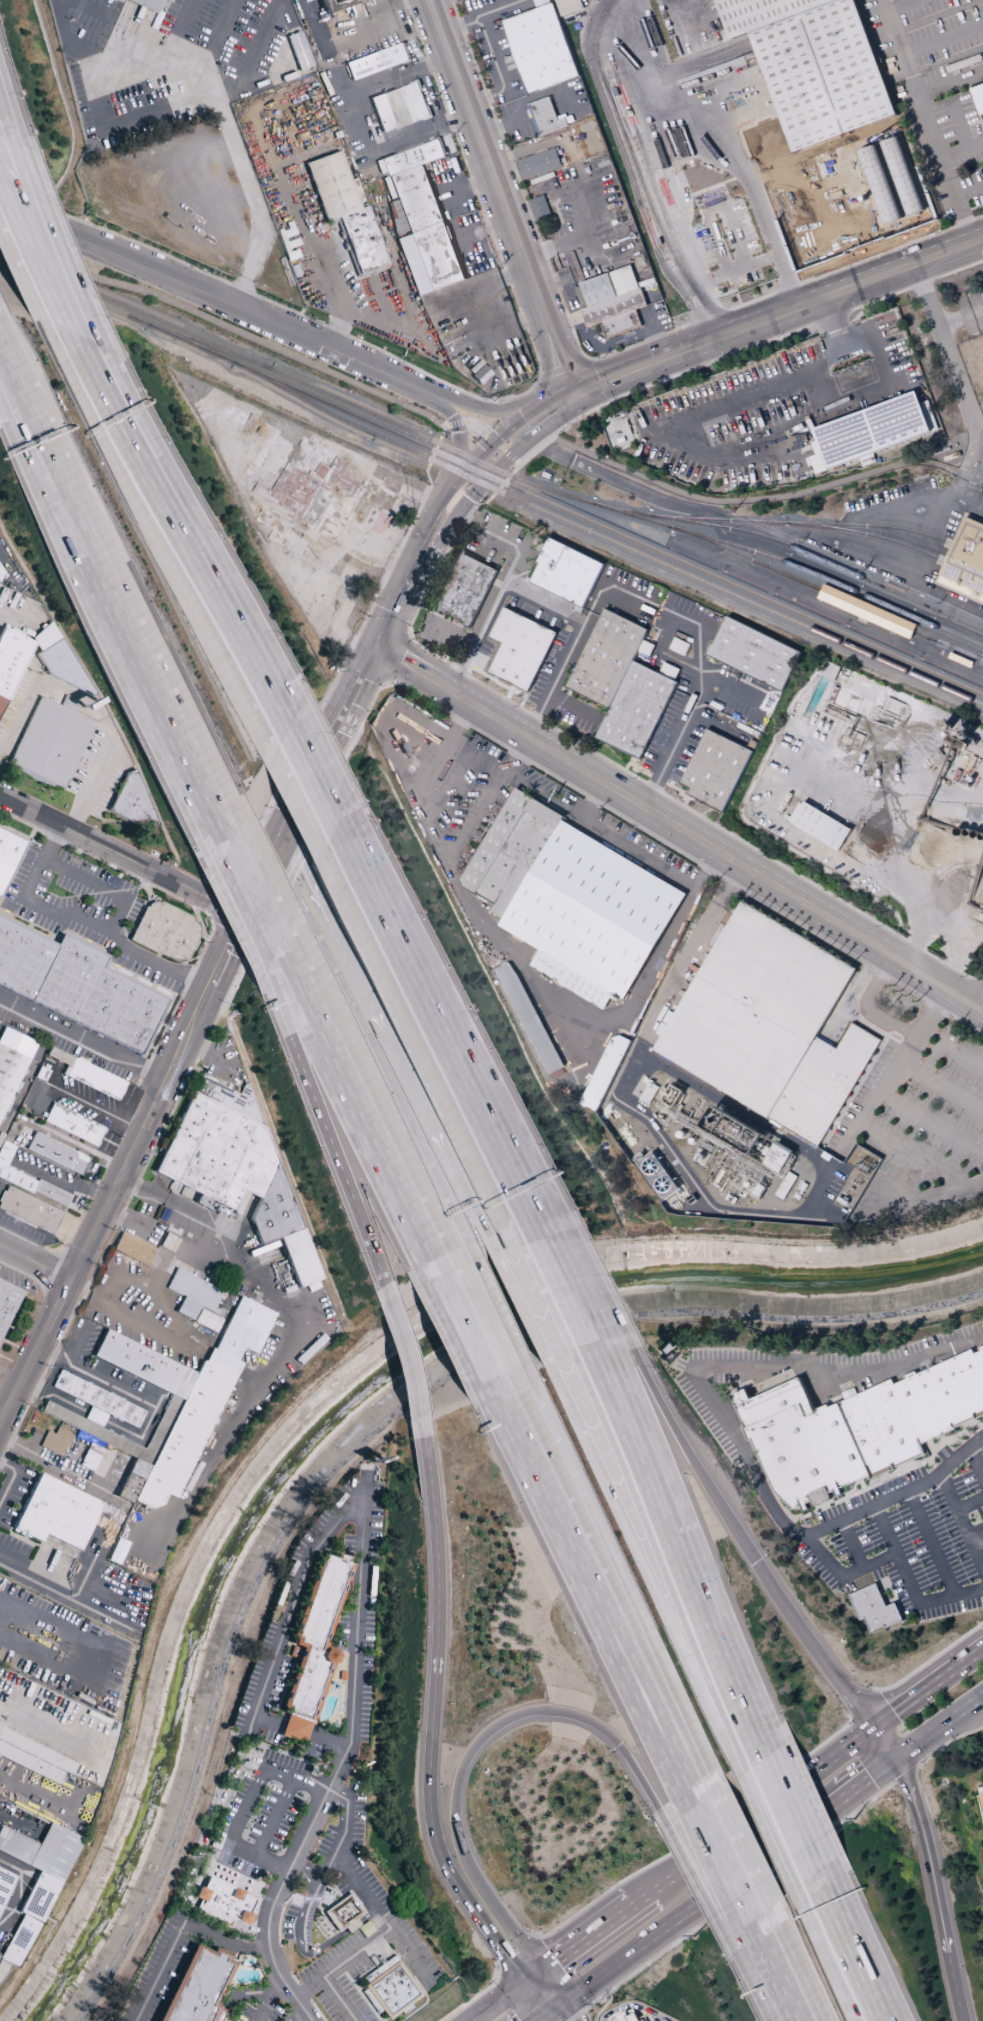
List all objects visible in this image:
building: (890, 0)
building: (892, 0)
building: (117, 1)
road: (437, 2)
building: (340, 3)
building: (148, 4)
building: (567, 6)
road: (905, 6)
road: (602, 7)
road: (100, 15)
road: (629, 17)
road: (180, 31)
road: (219, 38)
road: (943, 39)
building: (539, 47)
road: (258, 48)
building: (299, 51)
building: (377, 61)
road: (178, 67)
road: (125, 69)
building: (822, 81)
road: (951, 84)
building: (978, 97)
road: (919, 98)
building: (399, 107)
road: (172, 111)
building: (544, 116)
road: (9, 118)
road: (958, 125)
road: (961, 148)
building: (537, 163)
road: (1, 181)
road: (968, 192)
road: (501, 196)
building: (538, 207)
road: (256, 208)
building: (345, 211)
building: (418, 218)
road: (962, 220)
road: (40, 231)
road: (312, 233)
road: (589, 234)
road: (32, 251)
road: (797, 289)
road: (469, 295)
road: (210, 297)
building: (611, 301)
road: (710, 302)
parking lot: (972, 311)
road: (777, 313)
road: (959, 318)
road: (832, 321)
road: (66, 326)
road: (652, 333)
railway: (209, 346)
road: (7, 354)
road: (890, 366)
road: (87, 370)
road: (957, 382)
road: (818, 388)
road: (455, 389)
traffic signals: (574, 392)
road: (29, 399)
road: (22, 408)
road: (497, 409)
road: (526, 413)
road: (975, 413)
road: (553, 416)
building: (874, 428)
road: (488, 439)
road: (526, 440)
road: (458, 441)
road: (512, 451)
railway: (491, 477)
railway: (516, 477)
road: (452, 482)
road: (619, 482)
road: (959, 502)
road: (892, 505)
building: (375, 509)
road: (454, 516)
road: (724, 518)
railway: (804, 523)
road: (497, 538)
railway: (606, 538)
railway: (893, 542)
road: (735, 546)
road: (419, 548)
road: (858, 557)
road: (203, 559)
railway: (821, 559)
building: (966, 560)
building: (566, 572)
road: (185, 577)
building: (463, 589)
railway: (830, 596)
road: (544, 599)
road: (395, 611)
building: (867, 611)
road: (829, 612)
road: (415, 613)
road: (18, 621)
road: (478, 630)
road: (450, 632)
road: (141, 633)
road: (406, 637)
traffic signals: (377, 648)
building: (519, 648)
road: (698, 650)
building: (753, 653)
building: (605, 657)
road: (394, 658)
building: (961, 660)
building: (10, 661)
road: (693, 668)
road: (386, 681)
road: (501, 686)
road: (508, 691)
road: (542, 704)
road: (574, 705)
road: (704, 705)
building: (635, 709)
road: (330, 742)
building: (50, 744)
road: (909, 747)
road: (442, 749)
road: (671, 749)
road: (632, 760)
road: (317, 767)
road: (637, 768)
building: (714, 769)
road: (445, 785)
road: (678, 788)
road: (923, 790)
road: (296, 797)
road: (589, 799)
building: (131, 801)
road: (416, 801)
road: (685, 801)
parking lot: (467, 804)
road: (765, 812)
building: (821, 826)
road: (680, 828)
traffic signals: (282, 837)
road: (666, 845)
road: (239, 847)
building: (511, 850)
building: (8, 854)
road: (122, 860)
road: (891, 863)
road: (706, 869)
road: (263, 879)
road: (727, 884)
road: (262, 896)
road: (257, 907)
building: (592, 909)
road: (19, 914)
traffic signals: (245, 921)
road: (85, 928)
building: (165, 932)
road: (944, 932)
road: (973, 938)
road: (296, 962)
road: (976, 980)
road: (980, 984)
building: (77, 987)
road: (366, 990)
road: (431, 998)
road: (866, 1007)
building: (756, 1008)
road: (982, 1009)
building: (529, 1018)
road: (84, 1040)
road: (944, 1045)
road: (421, 1047)
road: (375, 1050)
road: (893, 1071)
building: (604, 1072)
building: (9, 1073)
building: (95, 1080)
building: (824, 1083)
road: (940, 1088)
road: (639, 1113)
road: (330, 1122)
road: (758, 1122)
road: (931, 1123)
building: (73, 1125)
road: (386, 1126)
parking lot: (918, 1130)
road: (827, 1131)
road: (375, 1132)
power plant: (724, 1150)
road: (911, 1153)
building: (56, 1154)
building: (777, 1158)
road: (130, 1160)
power tower: (865, 1167)
building: (235, 1169)
road: (456, 1169)
building: (27, 1180)
road: (928, 1195)
road: (536, 1205)
building: (29, 1210)
road: (482, 1223)
building: (133, 1250)
road: (36, 1264)
road: (574, 1284)
building: (192, 1294)
road: (547, 1299)
building: (7, 1303)
road: (522, 1306)
road: (499, 1315)
building: (206, 1321)
road: (483, 1322)
road: (467, 1330)
road: (292, 1340)
road: (410, 1344)
road: (6, 1395)
building: (182, 1402)
road: (6, 1410)
building: (913, 1410)
road: (720, 1418)
road: (424, 1419)
building: (92, 1430)
road: (363, 1441)
building: (55, 1442)
building: (797, 1443)
road: (676, 1449)
road: (43, 1460)
road: (976, 1462)
road: (887, 1475)
road: (11, 1479)
road: (969, 1503)
building: (56, 1514)
road: (962, 1527)
road: (886, 1528)
road: (975, 1537)
road: (856, 1541)
road: (931, 1541)
road: (685, 1547)
parking lot: (908, 1557)
road: (897, 1560)
road: (658, 1562)
road: (645, 1566)
road: (35, 1573)
road: (622, 1580)
road: (613, 1584)
road: (594, 1597)
road: (292, 1604)
building: (874, 1608)
road: (357, 1618)
building: (315, 1645)
road: (812, 1646)
road: (97, 1655)
road: (928, 1660)
building: (342, 1677)
road: (430, 1685)
road: (928, 1686)
road: (523, 1717)
traffic signals: (873, 1727)
road: (941, 1728)
road: (49, 1731)
road: (886, 1743)
road: (946, 1743)
building: (34, 1757)
traffic signals: (900, 1760)
road: (292, 1778)
road: (870, 1781)
building: (980, 1797)
road: (762, 1808)
parking lot: (263, 1816)
road: (799, 1817)
road: (771, 1830)
road: (344, 1833)
road: (796, 1834)
road: (744, 1851)
road: (243, 1852)
road: (928, 1855)
road: (194, 1862)
road: (271, 1868)
road: (722, 1869)
road: (306, 1873)
building: (35, 1883)
road: (283, 1883)
building: (5, 1884)
road: (699, 1885)
road: (18, 1889)
road: (361, 1891)
road: (641, 1897)
building: (225, 1900)
building: (344, 1911)
road: (499, 1914)
building: (213, 1915)
road: (302, 1916)
road: (367, 1918)
building: (351, 1926)
road: (352, 1928)
road: (178, 1932)
road: (656, 1933)
road: (586, 1937)
road: (411, 1940)
road: (327, 1945)
road: (860, 1948)
road: (827, 1954)
road: (503, 1955)
road: (530, 1957)
road: (766, 1961)
road: (341, 1963)
road: (797, 1964)
parking lot: (162, 1969)
road: (756, 1970)
traffic signals: (540, 1971)
road: (427, 1977)
road: (531, 1977)
road: (439, 1979)
road: (953, 1980)
traffic signals: (523, 1984)
road: (551, 1986)
building: (199, 1987)
road: (350, 1988)
building: (390, 1989)
road: (245, 1995)
road: (534, 2000)
road: (267, 2001)
road: (331, 2001)
traffic signals: (563, 2001)
road: (498, 2002)
road: (406, 2007)
road: (554, 2009)
road: (788, 2009)
road: (569, 2010)
road: (633, 2012)
road: (960, 2013)
road: (221, 2015)
parking lot: (261, 2015)
road: (313, 2016)
traffic signals: (545, 2017)
building: (631, 2018)
road: (541, 2019)
road: (546, 2019)

